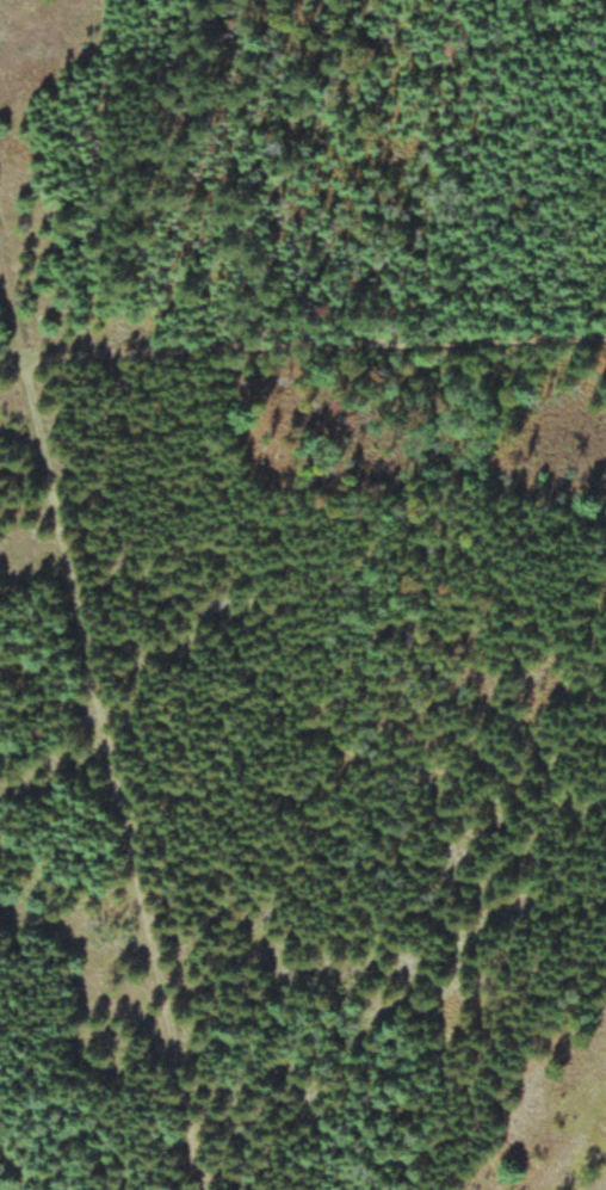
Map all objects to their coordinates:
road: (12, 309)
road: (319, 347)
road: (16, 362)
park: (303, 594)
road: (106, 777)

